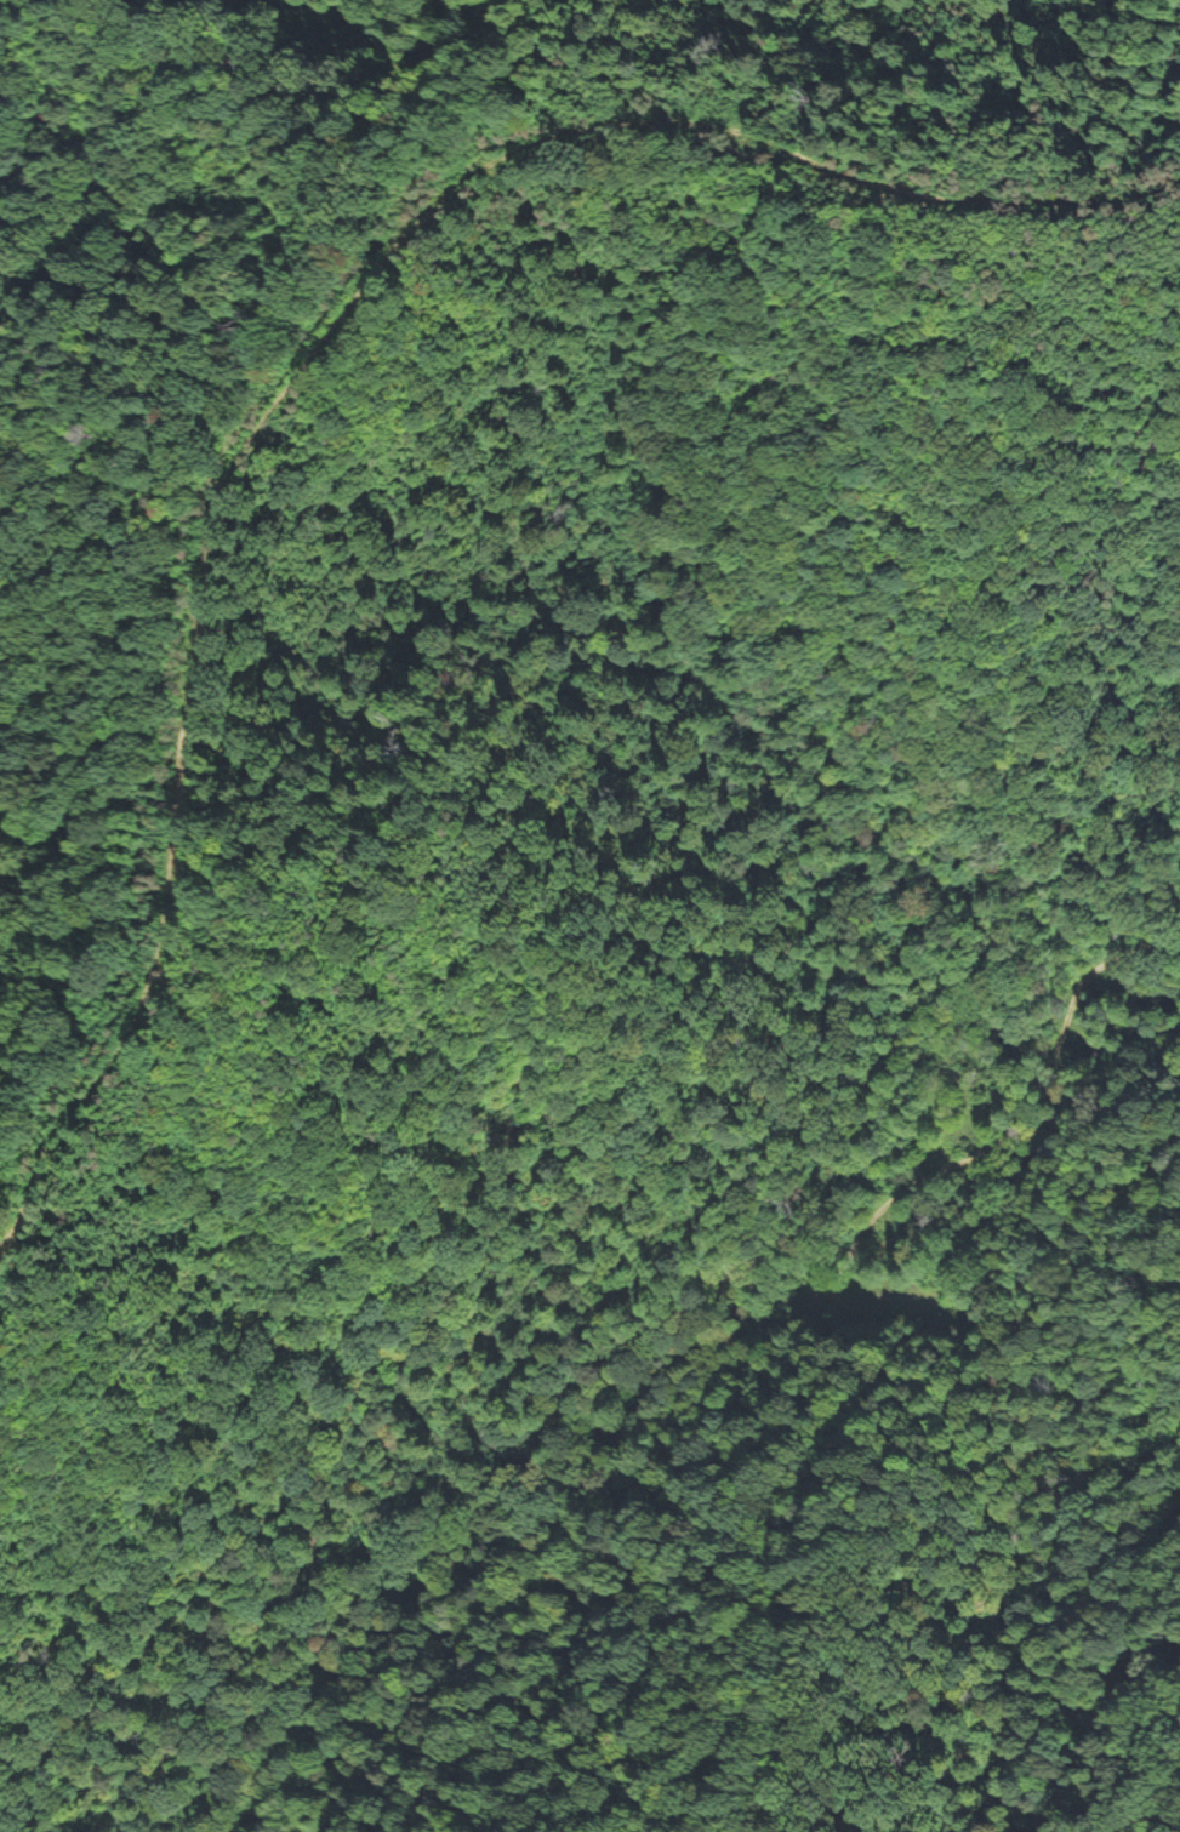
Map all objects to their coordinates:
road: (971, 1085)

